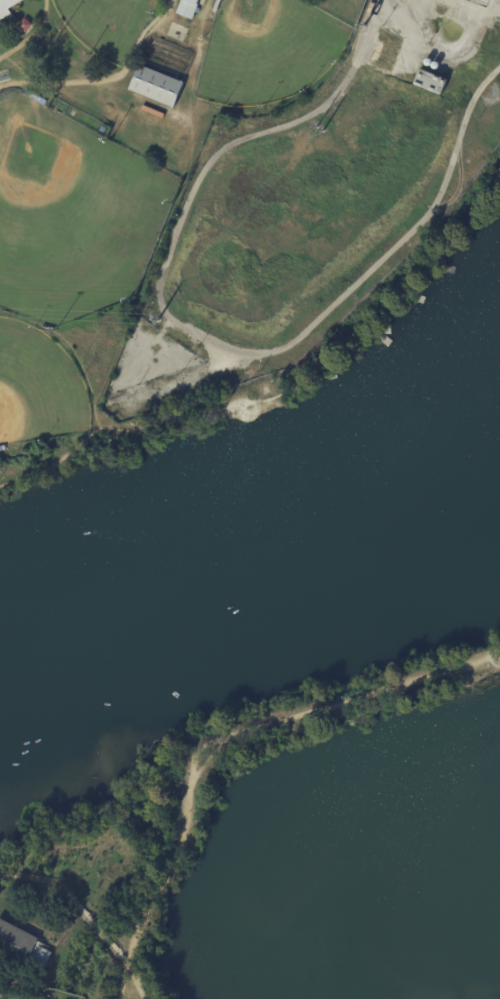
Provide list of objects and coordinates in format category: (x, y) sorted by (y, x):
building: (203, 0)
power substation: (480, 2)
building: (217, 6)
building: (7, 7)
building: (189, 8)
road: (470, 10)
park: (106, 24)
building: (25, 25)
power tower: (363, 26)
road: (31, 34)
park: (267, 50)
building: (377, 52)
road: (105, 79)
building: (430, 82)
building: (157, 87)
power tower: (322, 130)
park: (72, 214)
power tower: (157, 319)
road: (200, 333)
park: (38, 386)
river: (260, 546)
road: (490, 654)
road: (487, 658)
road: (496, 665)
road: (342, 703)
building: (187, 748)
road: (208, 758)
park: (175, 819)
road: (166, 876)
road: (50, 879)
road: (101, 933)
building: (22, 947)
road: (131, 973)
road: (17, 977)

